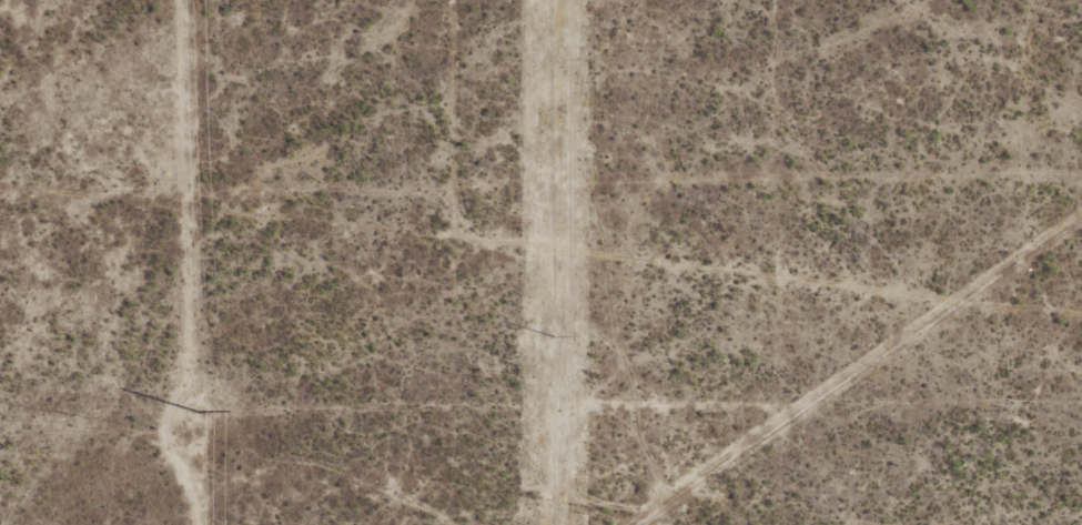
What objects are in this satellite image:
road: (1048, 141)
road: (540, 223)
power tower: (554, 327)

